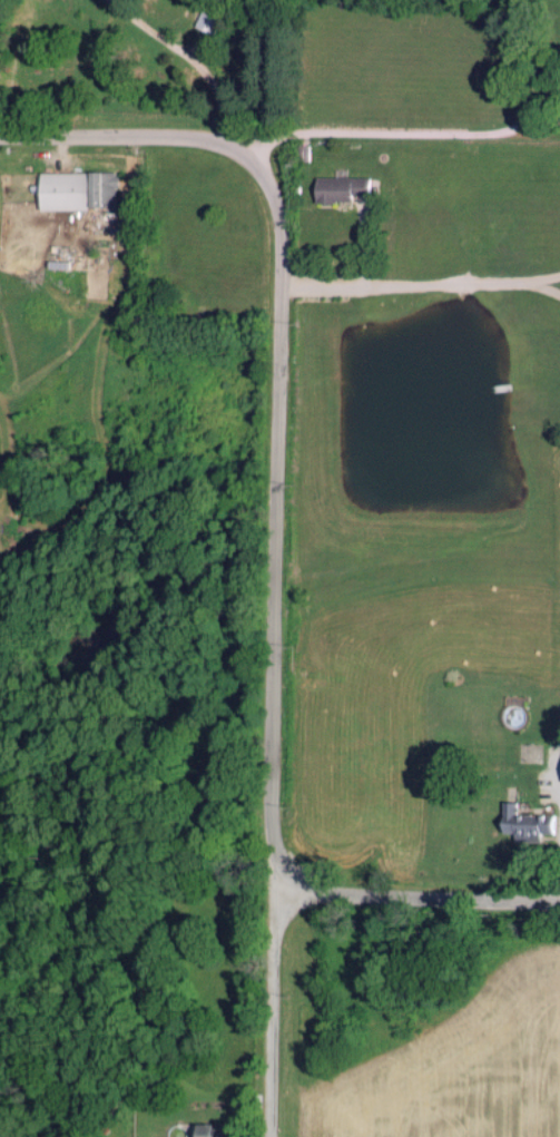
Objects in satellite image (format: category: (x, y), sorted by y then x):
building: (205, 22)
building: (336, 188)
building: (73, 189)
road: (272, 540)
building: (558, 765)
building: (521, 823)
road: (268, 1013)
building: (219, 1129)

